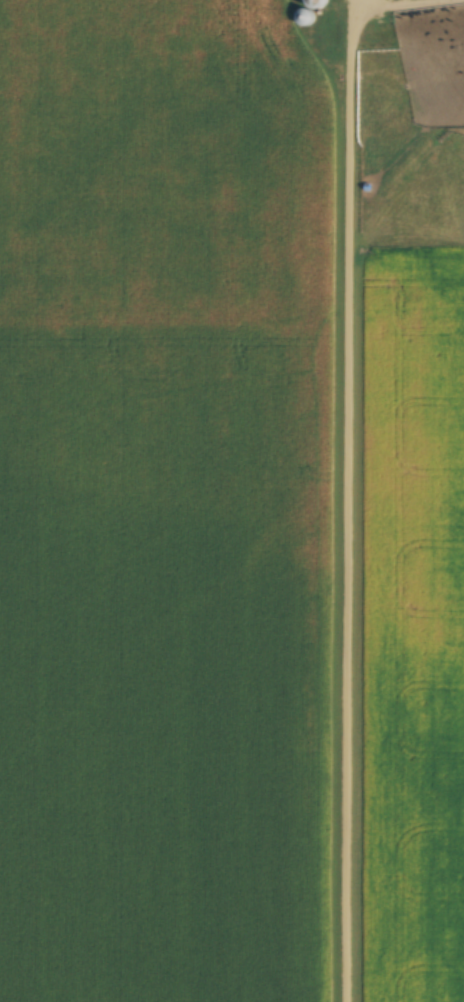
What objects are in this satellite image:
road: (347, 499)

